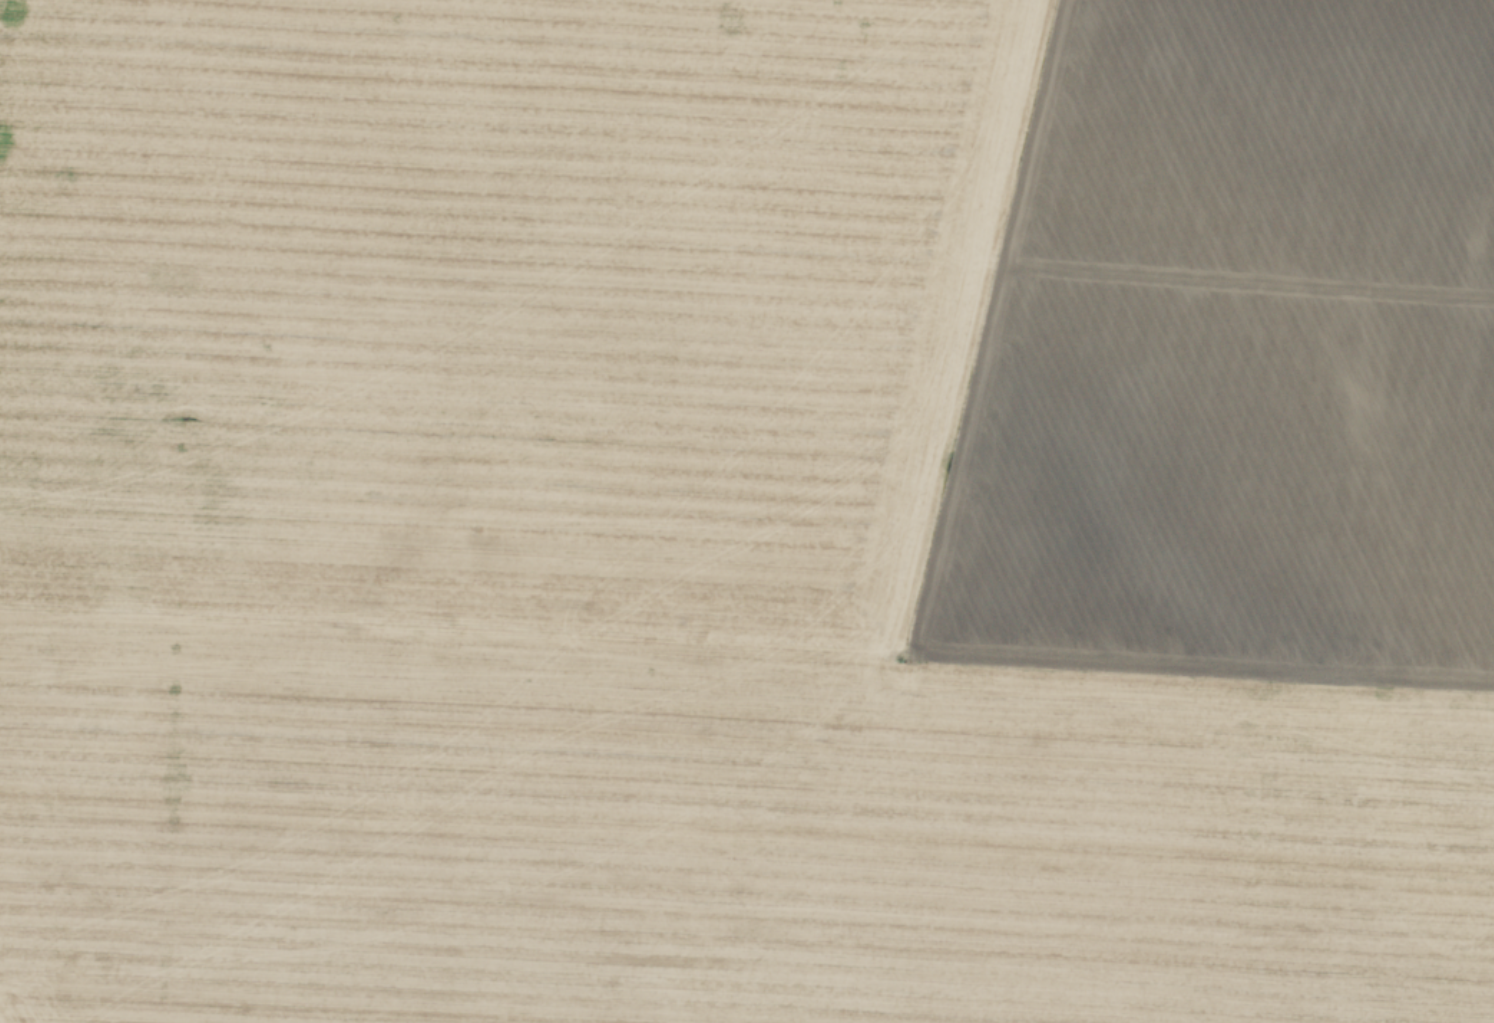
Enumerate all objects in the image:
road: (1114, 273)
crop: (747, 511)
road: (995, 661)

